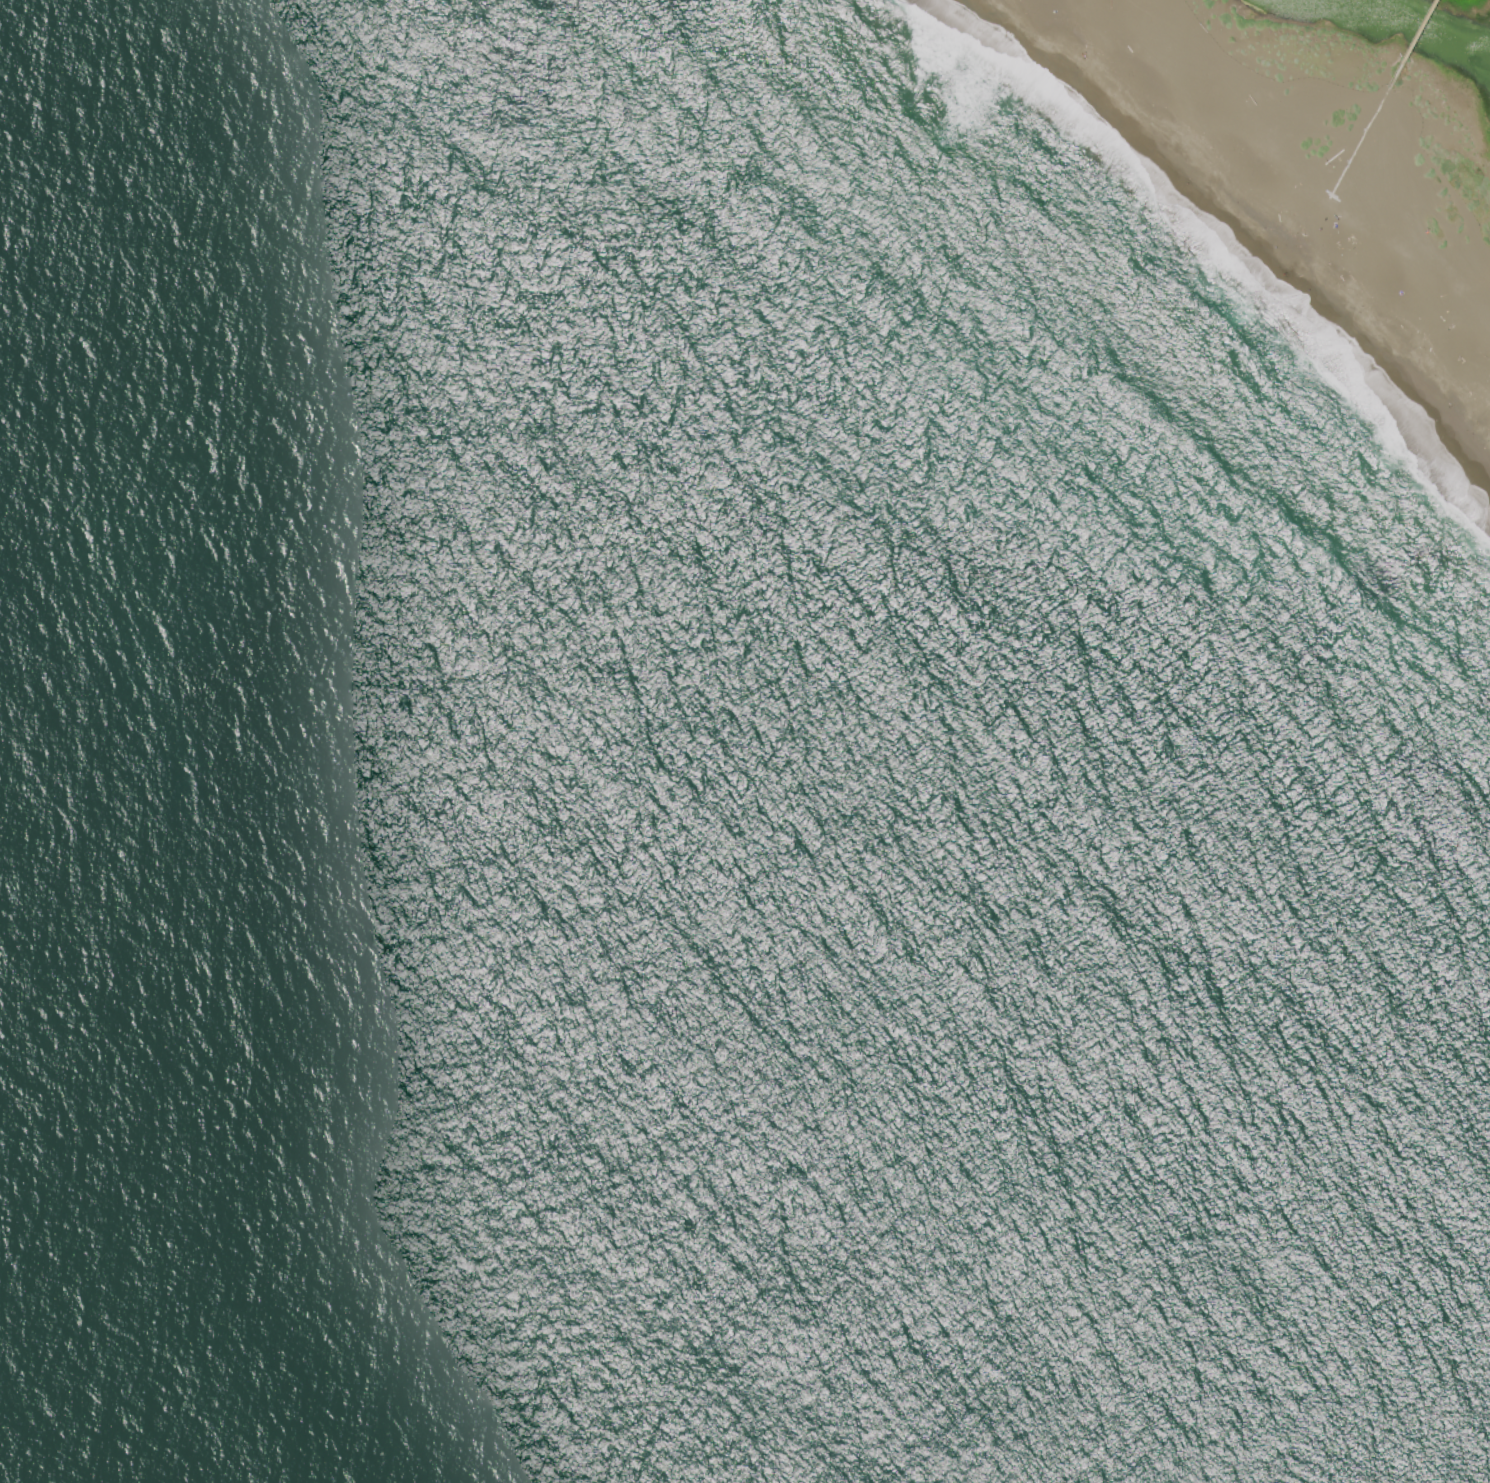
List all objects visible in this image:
road: (1416, 45)
road: (1440, 175)

